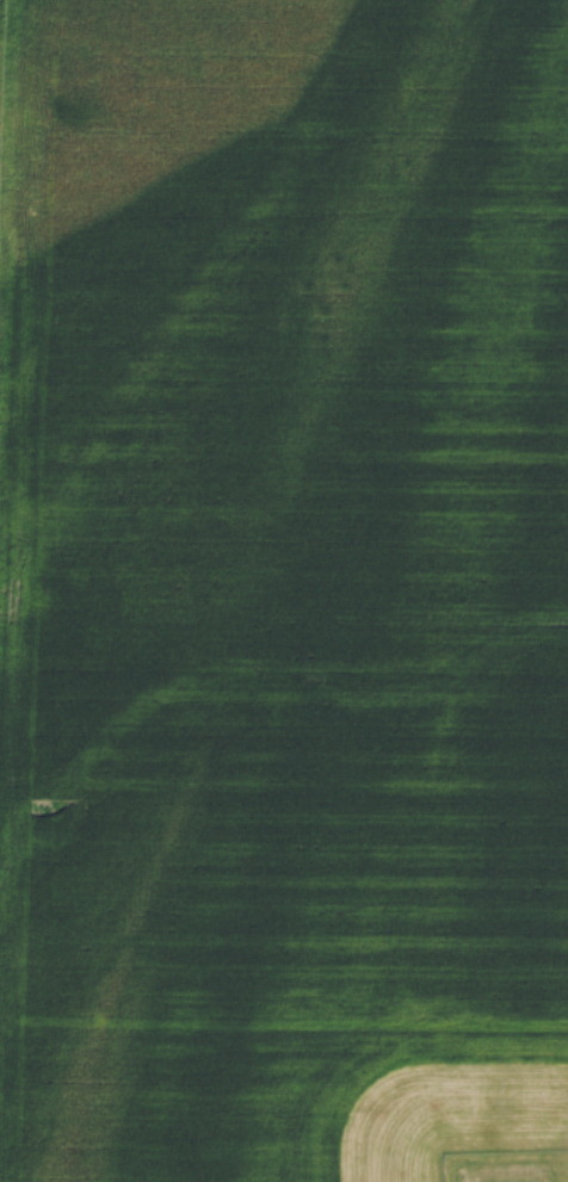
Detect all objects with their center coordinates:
crop: (284, 590)

